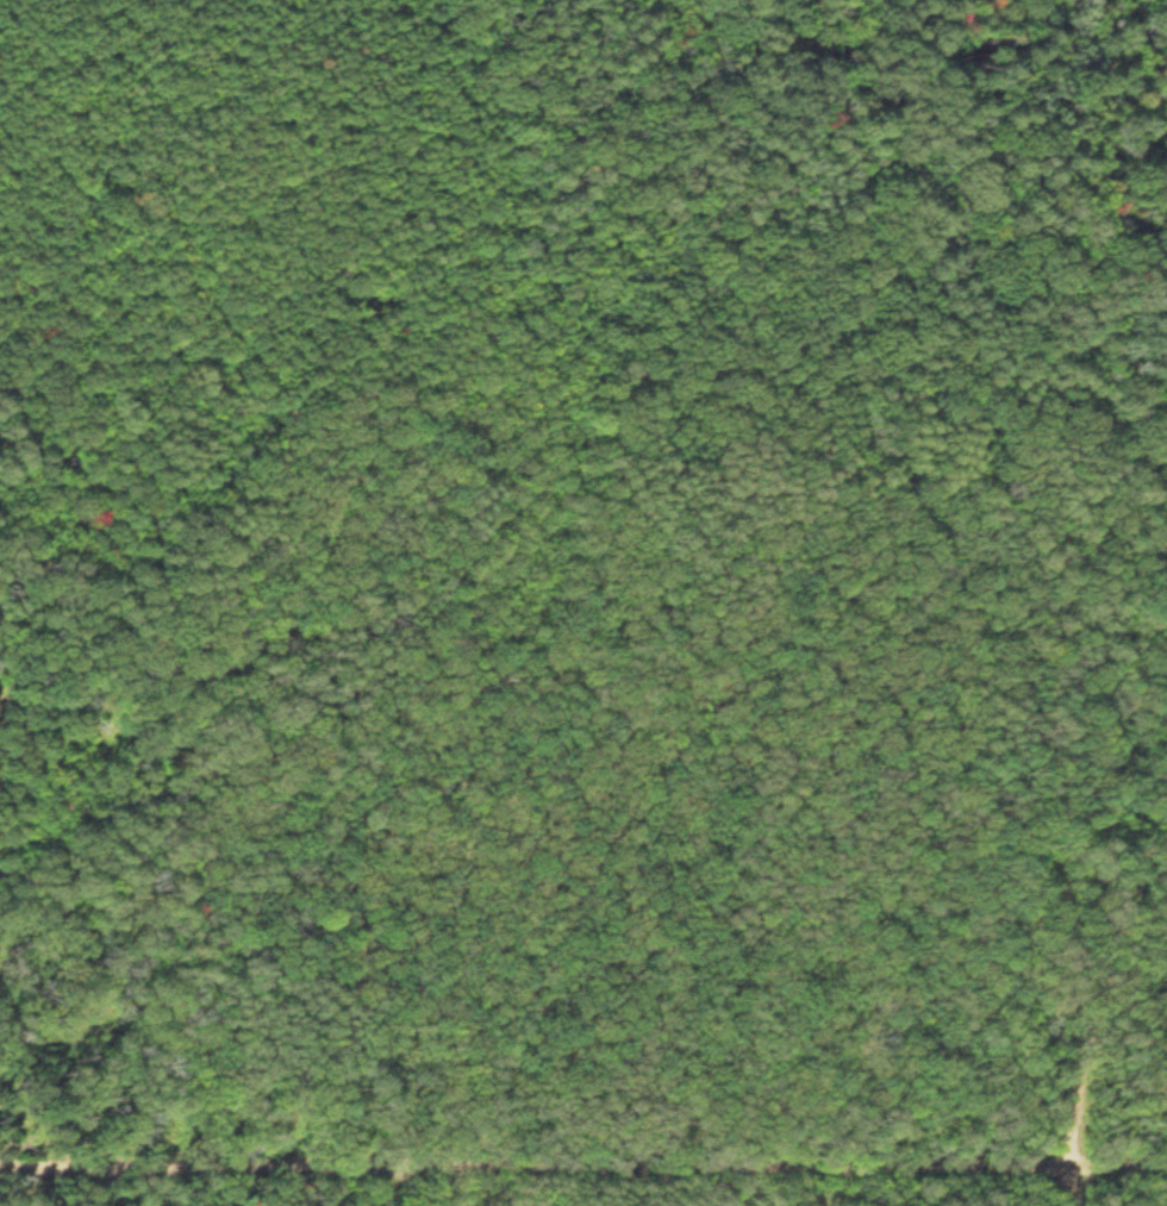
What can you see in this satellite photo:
road: (1103, 967)
road: (582, 1164)

